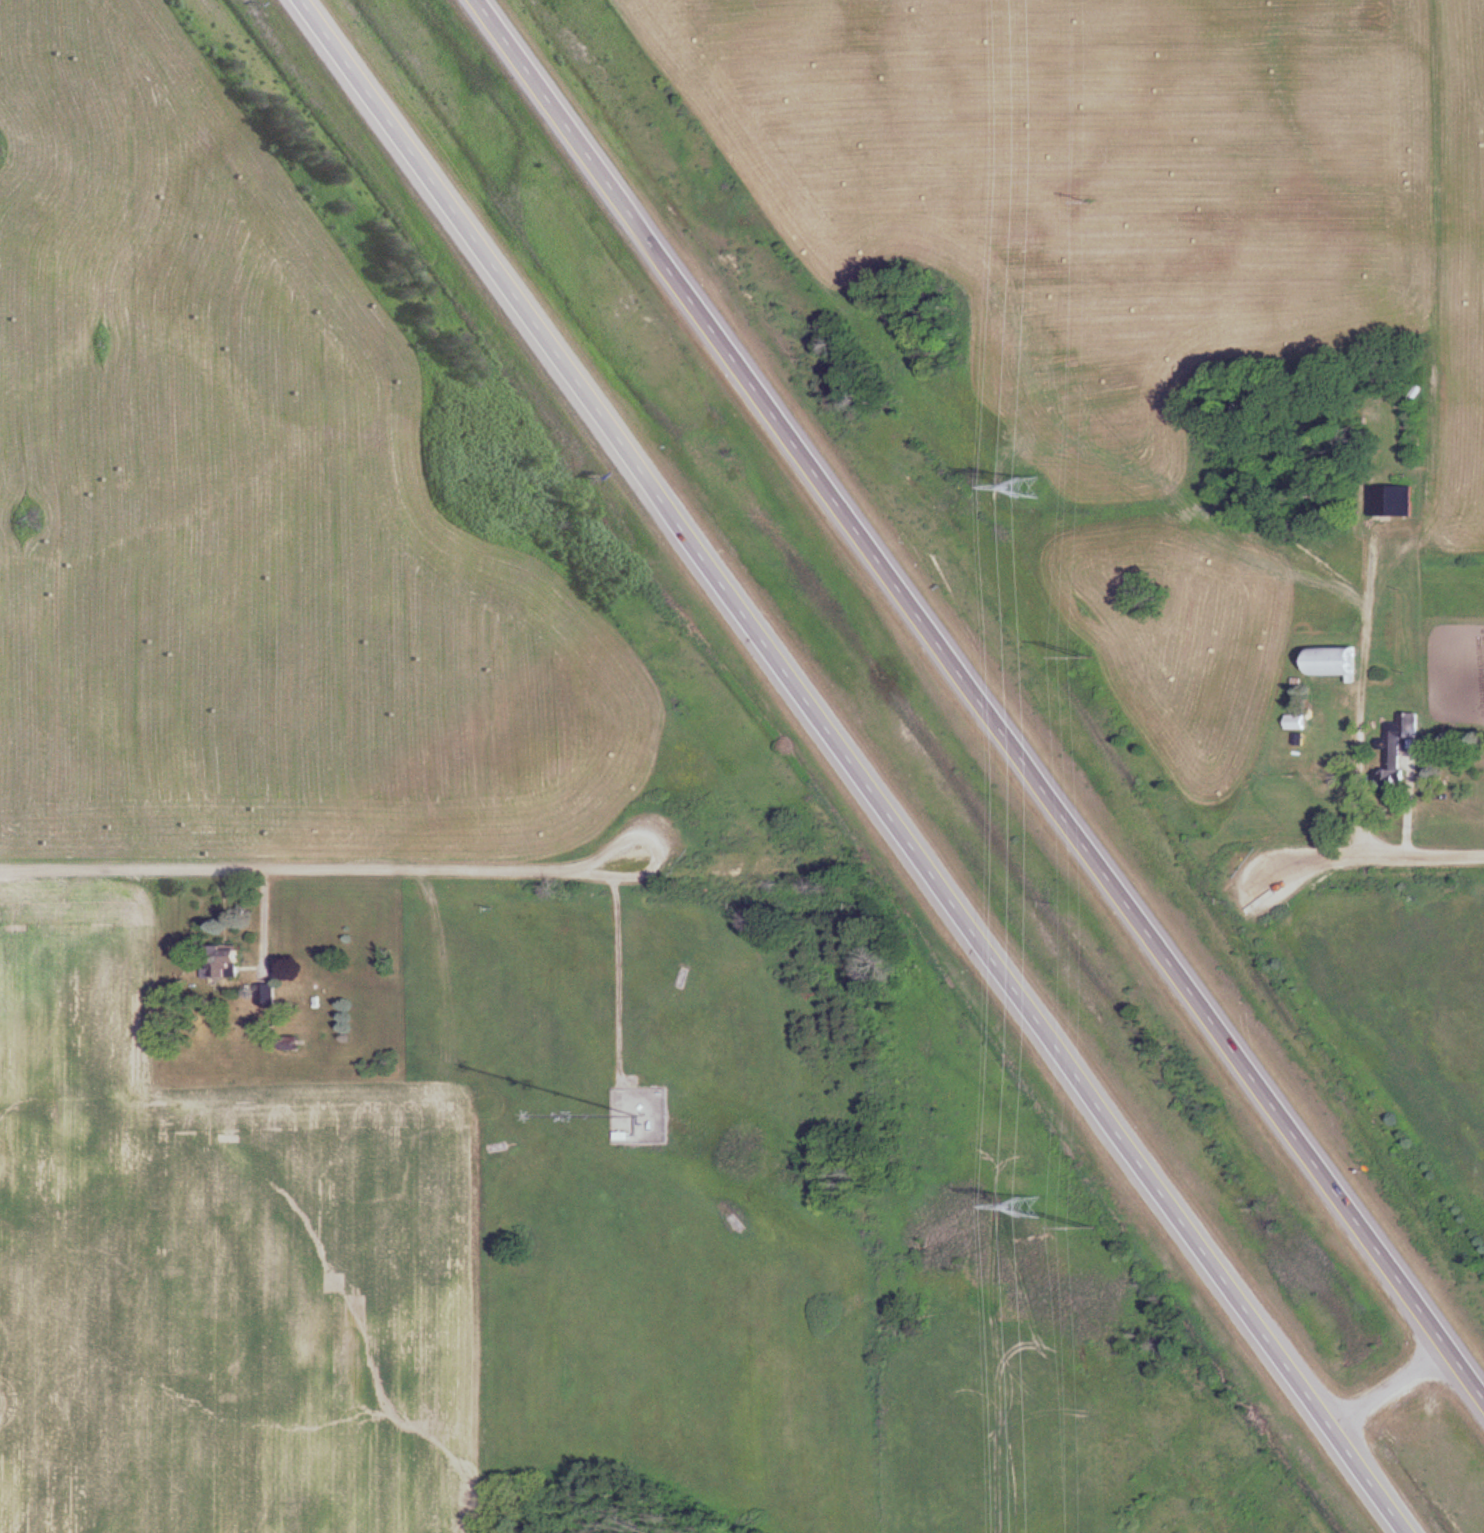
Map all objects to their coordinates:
power tower: (1027, 487)
building: (1394, 499)
power tower: (1090, 656)
building: (1342, 660)
road: (979, 700)
building: (1299, 720)
building: (1403, 750)
road: (859, 766)
road: (1377, 858)
road: (322, 870)
building: (226, 962)
power tower: (1029, 1204)
power tower: (1089, 1228)
road: (1391, 1388)

